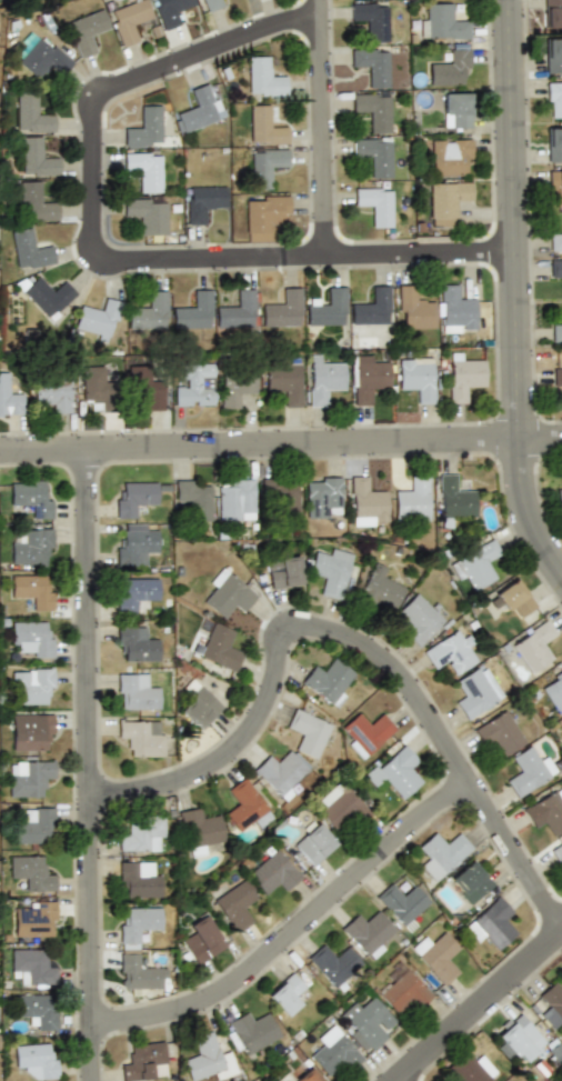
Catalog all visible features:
building: (211, 4)
building: (169, 10)
building: (552, 13)
building: (371, 19)
building: (129, 20)
building: (441, 22)
building: (87, 30)
building: (553, 56)
building: (42, 57)
building: (372, 66)
building: (450, 67)
building: (263, 77)
building: (554, 99)
building: (199, 109)
building: (373, 110)
building: (455, 110)
building: (30, 113)
building: (264, 126)
building: (143, 128)
road: (324, 133)
building: (554, 144)
building: (450, 154)
building: (373, 156)
building: (34, 158)
building: (264, 166)
building: (145, 170)
building: (555, 184)
building: (446, 201)
building: (33, 202)
building: (204, 202)
building: (374, 204)
building: (148, 212)
building: (262, 214)
building: (558, 231)
building: (29, 249)
building: (555, 268)
road: (106, 271)
road: (520, 292)
building: (48, 294)
building: (325, 308)
building: (370, 308)
building: (281, 309)
building: (455, 309)
building: (235, 310)
building: (412, 310)
building: (149, 312)
building: (191, 312)
building: (96, 320)
building: (556, 330)
building: (463, 374)
building: (415, 377)
building: (367, 378)
building: (556, 379)
building: (195, 381)
building: (320, 381)
building: (283, 382)
building: (94, 383)
building: (149, 387)
building: (235, 392)
building: (52, 393)
building: (8, 398)
road: (280, 451)
building: (278, 493)
building: (323, 496)
building: (30, 498)
building: (134, 498)
building: (193, 498)
building: (411, 498)
building: (454, 499)
building: (559, 499)
building: (235, 500)
building: (364, 500)
building: (31, 547)
building: (137, 548)
building: (475, 565)
building: (282, 571)
building: (330, 572)
building: (379, 589)
building: (32, 590)
building: (227, 593)
building: (134, 594)
building: (514, 597)
building: (418, 619)
building: (31, 638)
building: (136, 643)
building: (219, 647)
road: (353, 648)
building: (533, 648)
building: (449, 652)
building: (327, 679)
building: (31, 687)
building: (555, 687)
building: (475, 691)
building: (136, 692)
building: (199, 705)
building: (365, 731)
building: (31, 732)
building: (305, 732)
building: (499, 733)
building: (141, 737)
road: (87, 768)
building: (393, 770)
building: (280, 772)
building: (525, 772)
building: (28, 777)
building: (339, 804)
building: (244, 805)
building: (545, 812)
building: (34, 823)
building: (199, 829)
building: (141, 834)
building: (311, 842)
building: (556, 851)
building: (441, 853)
building: (272, 872)
building: (29, 873)
building: (139, 879)
building: (470, 881)
building: (401, 902)
building: (235, 904)
building: (34, 919)
building: (491, 923)
building: (137, 924)
building: (368, 933)
building: (201, 940)
road: (297, 943)
building: (438, 955)
building: (332, 963)
building: (31, 967)
building: (139, 974)
building: (401, 989)
building: (284, 994)
building: (551, 1003)
building: (34, 1010)
road: (478, 1012)
building: (367, 1023)
building: (251, 1030)
building: (525, 1042)
building: (332, 1051)
building: (36, 1060)
building: (205, 1060)
building: (145, 1061)
building: (470, 1069)
building: (308, 1075)

